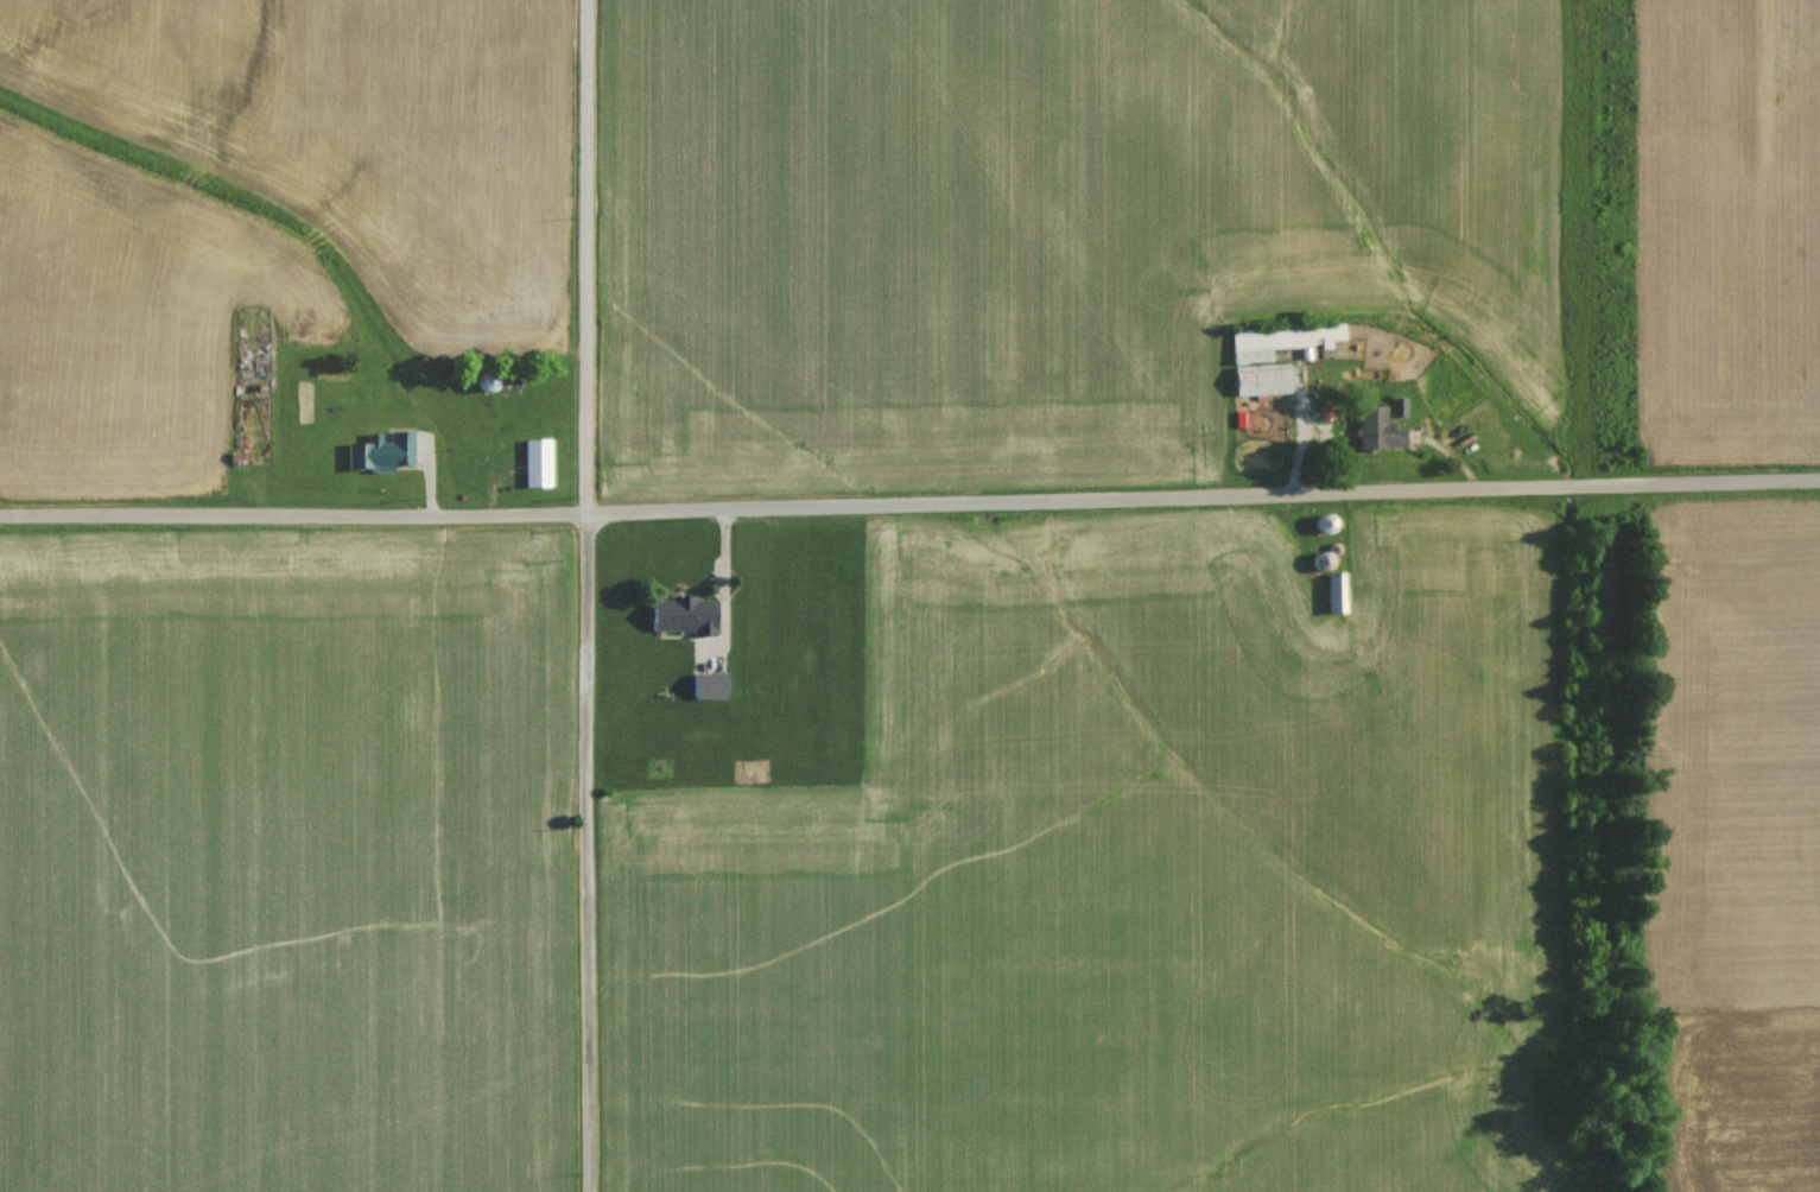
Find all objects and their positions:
building: (1266, 342)
building: (1256, 385)
building: (1371, 436)
building: (378, 457)
building: (532, 469)
road: (909, 500)
building: (1318, 530)
building: (1317, 566)
road: (590, 595)
building: (1331, 600)
building: (677, 621)
building: (702, 697)

